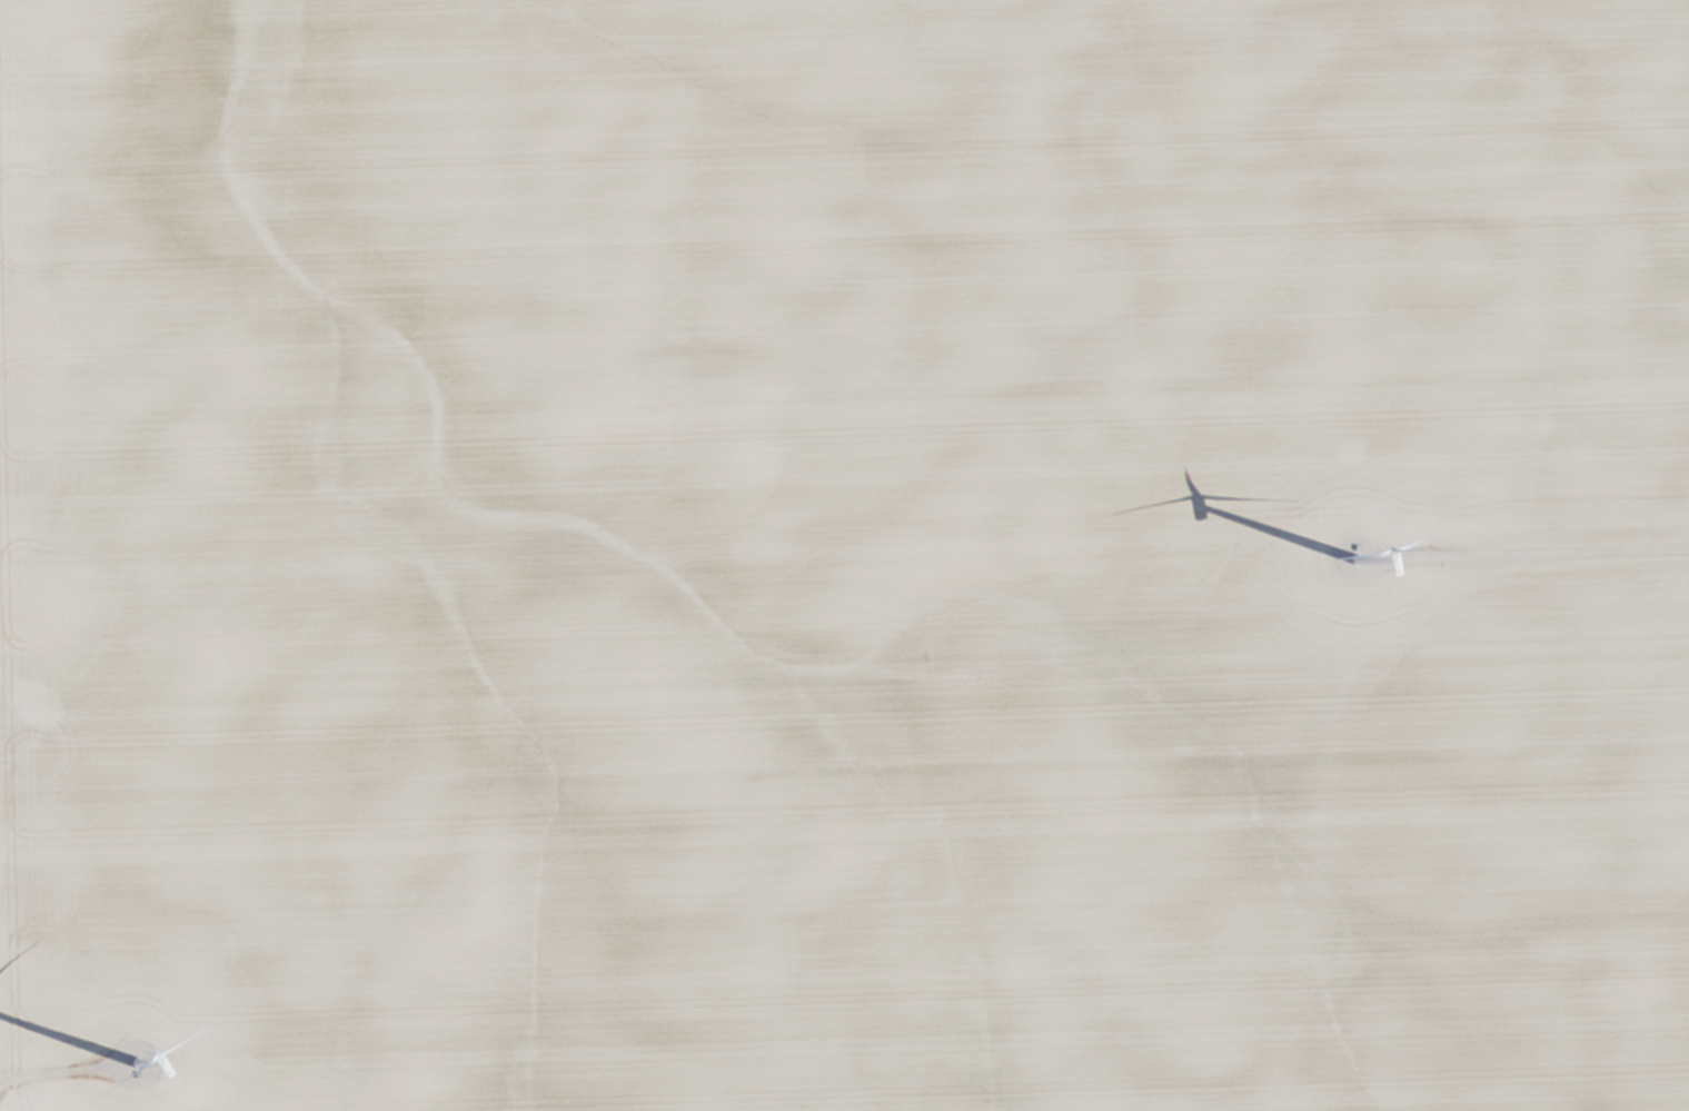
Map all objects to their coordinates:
road: (1546, 549)
wind turbine: (1350, 557)
wind turbine: (135, 1059)

